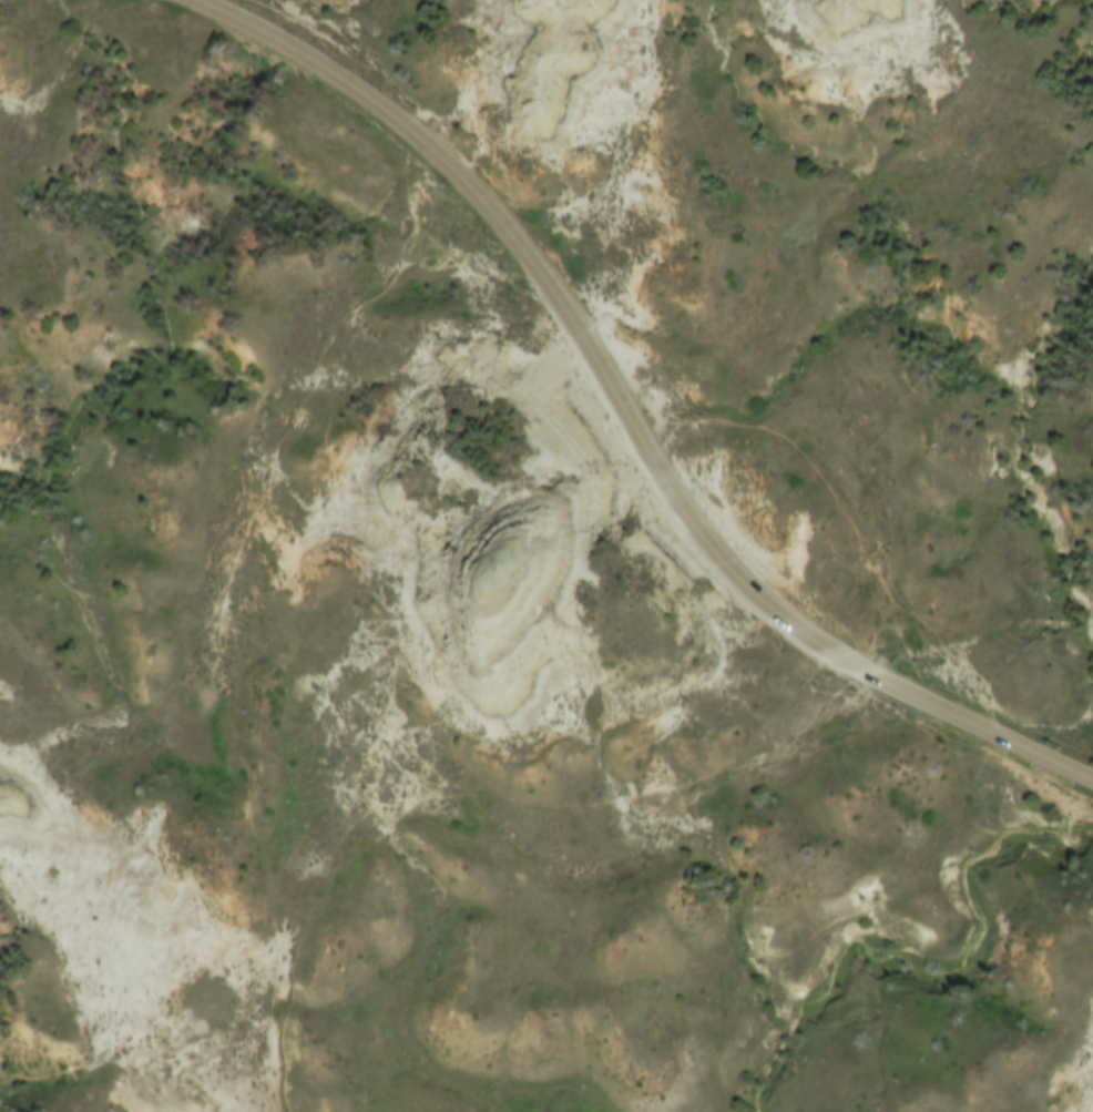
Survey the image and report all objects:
road: (624, 410)

